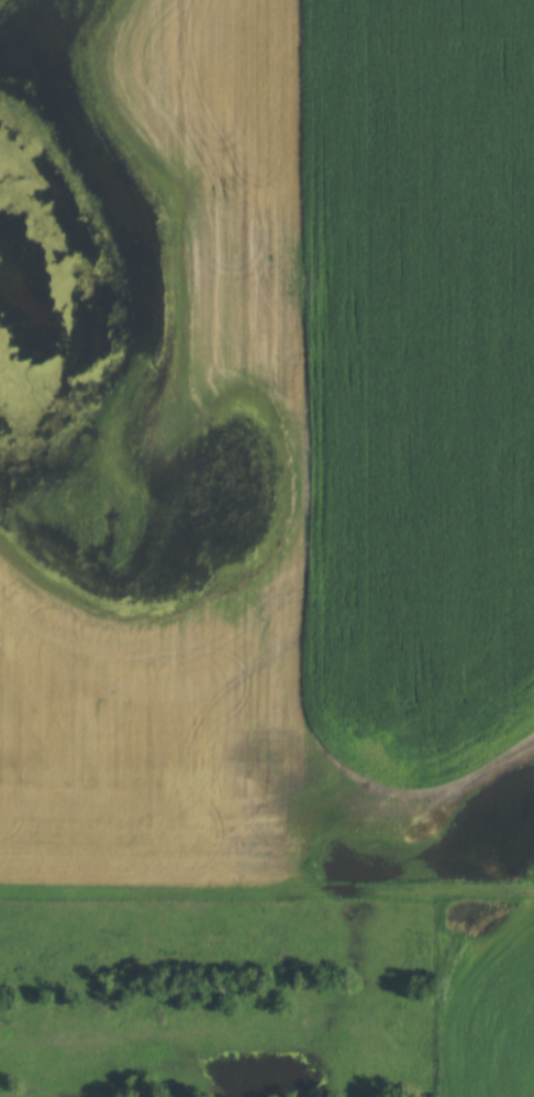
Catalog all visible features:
road: (267, 897)

